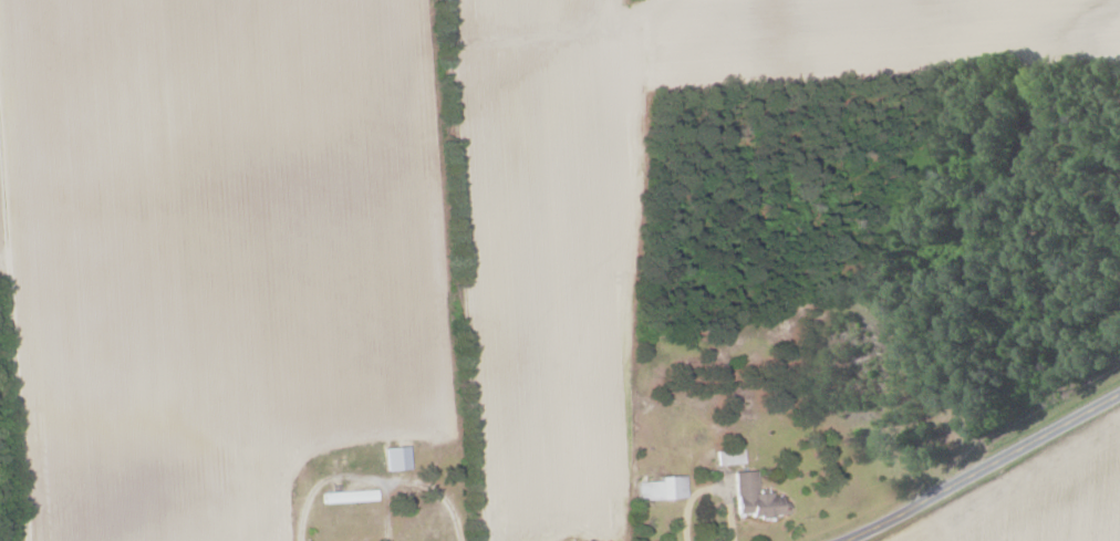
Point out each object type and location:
road: (13, 335)
building: (396, 458)
road: (986, 467)
road: (373, 476)
road: (711, 486)
building: (663, 488)
building: (754, 497)
road: (385, 508)

